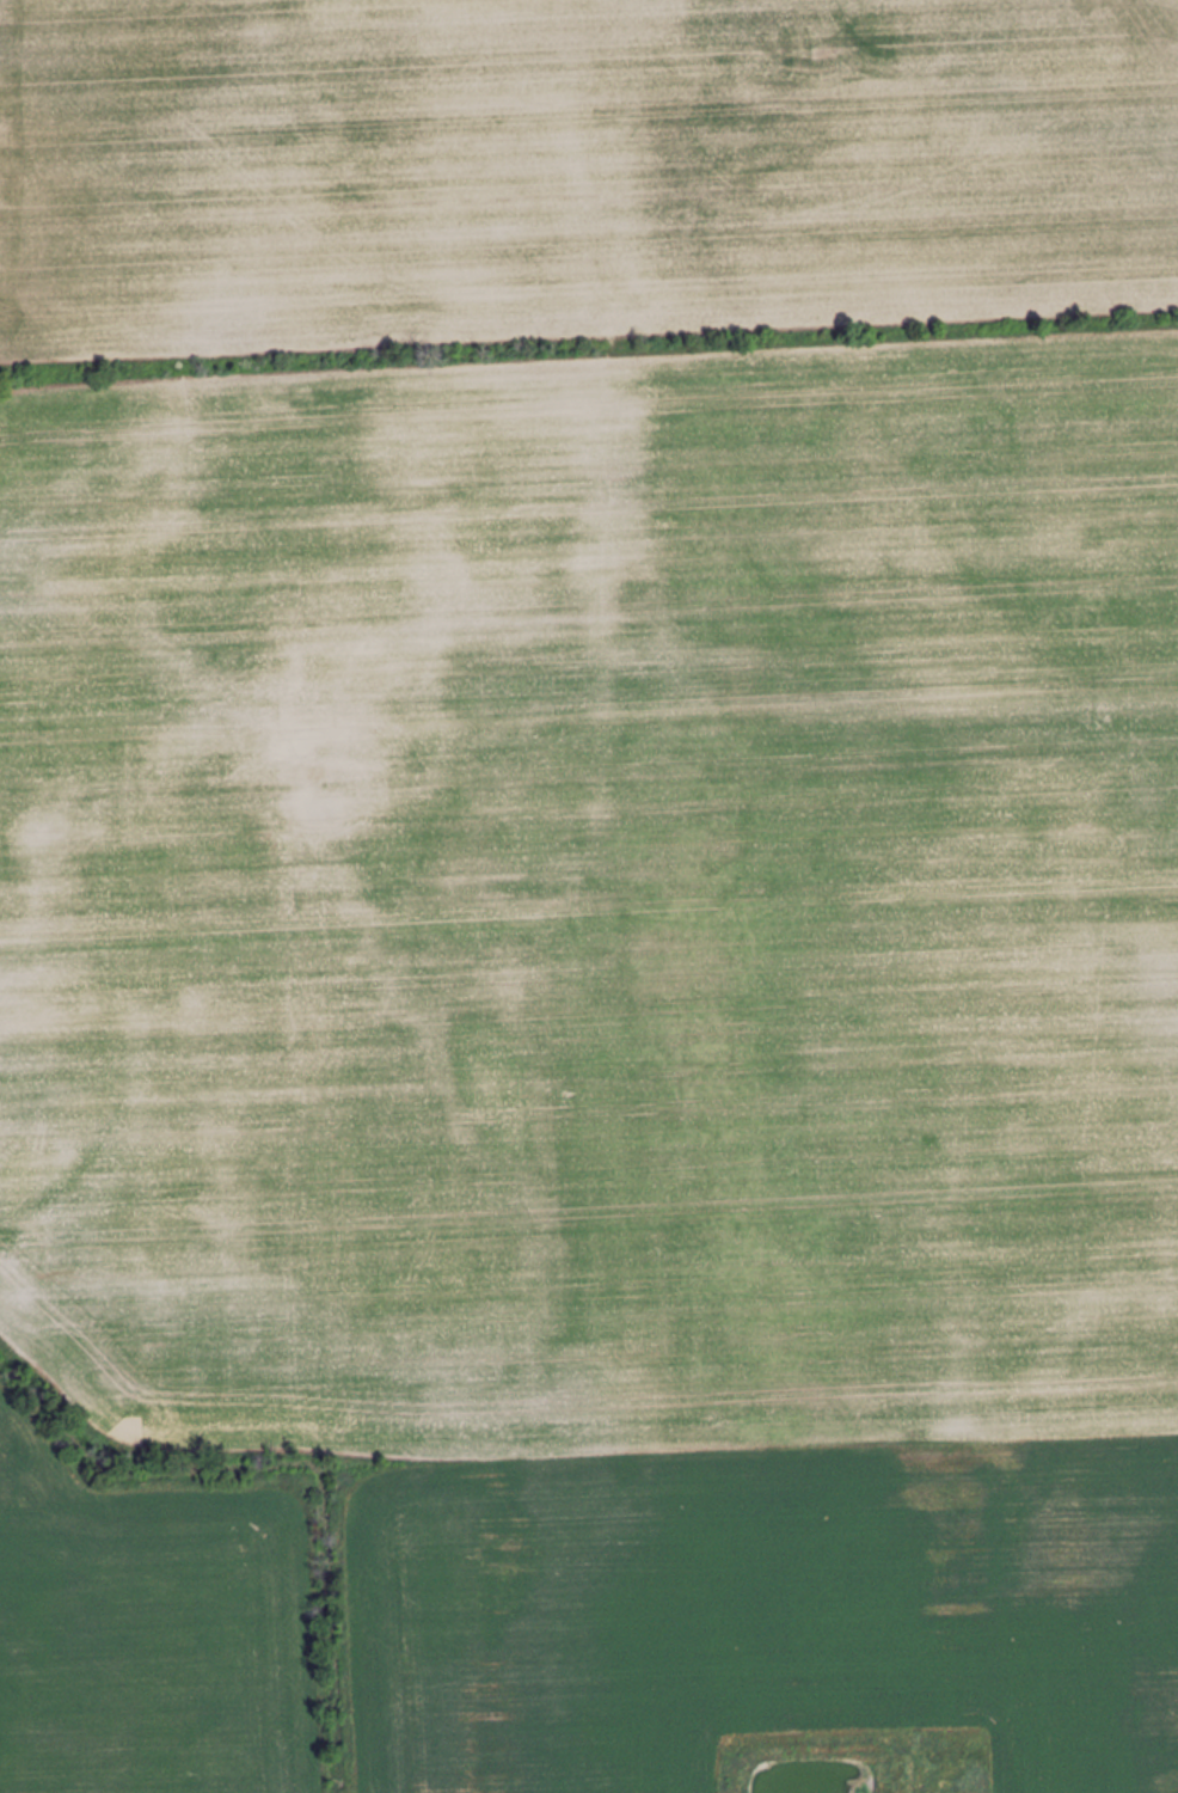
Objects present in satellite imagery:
crop: (626, 1011)

